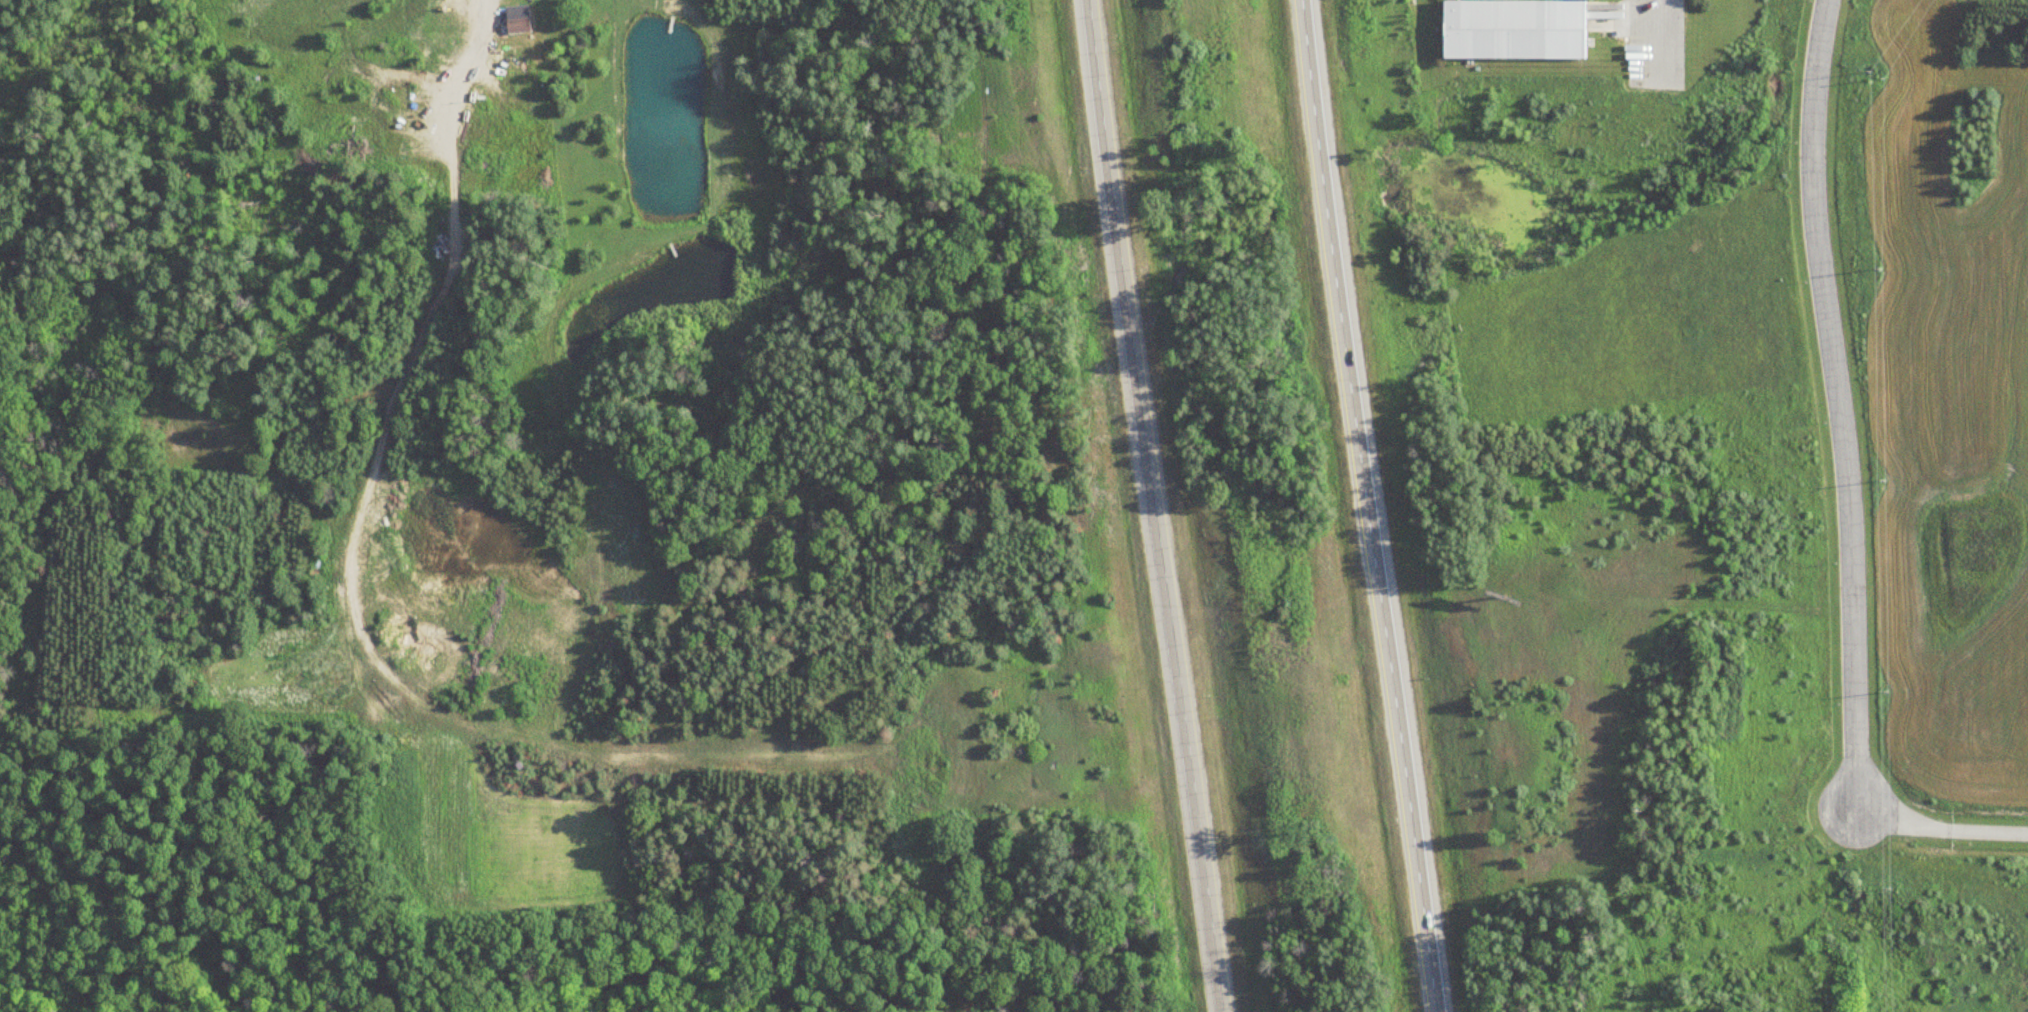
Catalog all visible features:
building: (513, 24)
building: (1508, 29)
road: (1658, 37)
road: (1837, 406)
road: (1368, 505)
road: (1148, 506)

